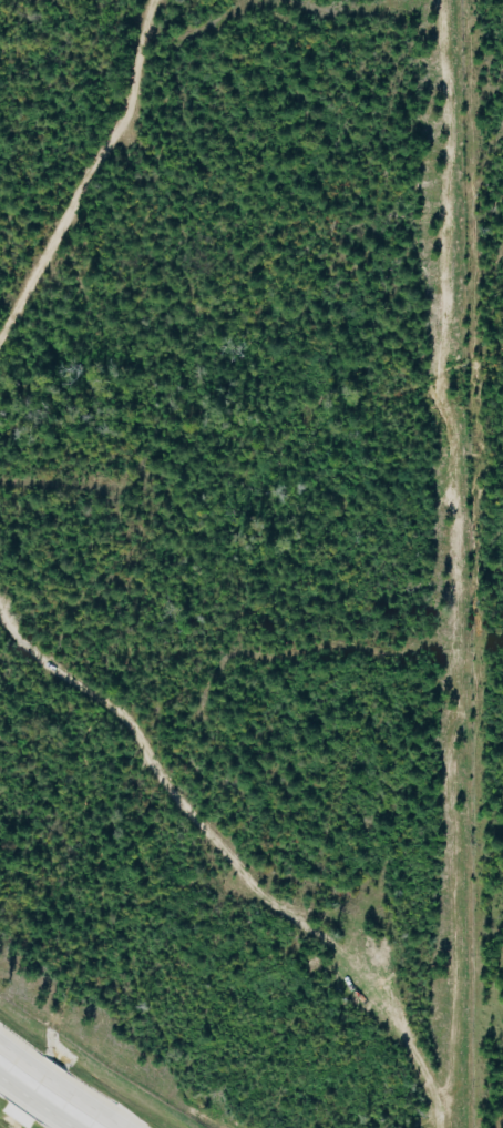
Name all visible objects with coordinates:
road: (50, 1095)

